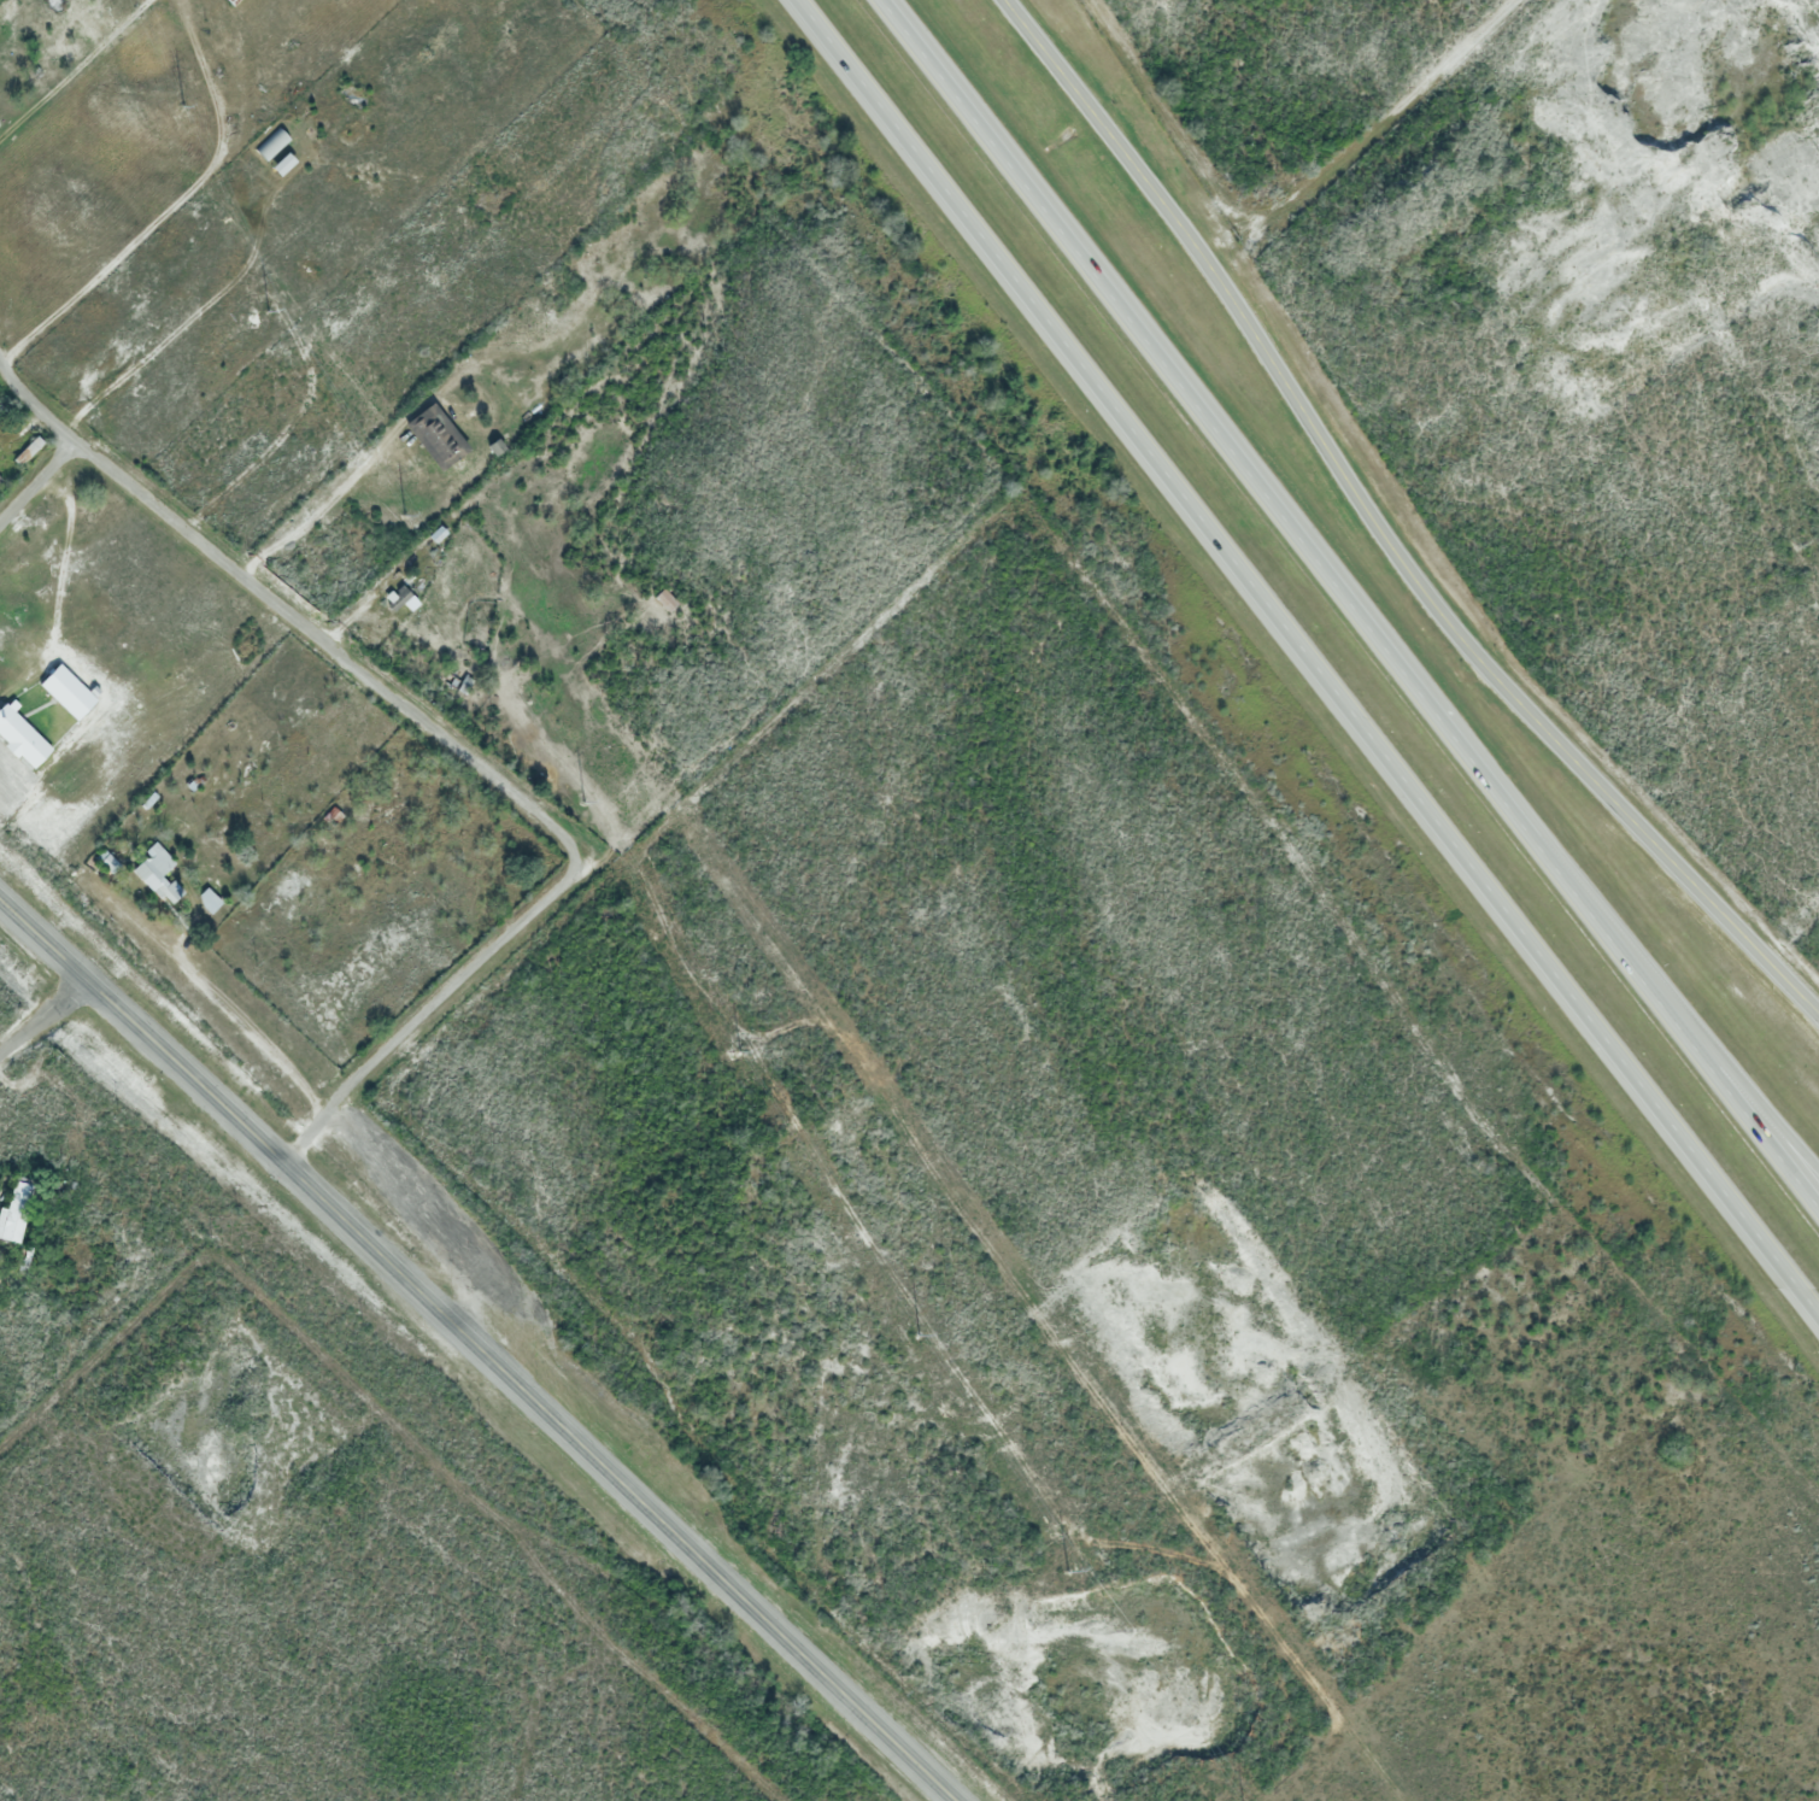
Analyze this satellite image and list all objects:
building: (233, 1)
building: (212, 46)
road: (72, 69)
power tower: (182, 110)
building: (274, 146)
building: (282, 166)
road: (172, 203)
power tower: (270, 310)
road: (34, 403)
building: (435, 436)
building: (495, 446)
building: (28, 451)
building: (0, 480)
power tower: (403, 515)
building: (436, 533)
road: (1380, 533)
building: (400, 598)
building: (668, 600)
road: (1352, 602)
building: (101, 616)
road: (1312, 658)
building: (66, 691)
building: (22, 738)
road: (454, 747)
building: (149, 799)
power tower: (583, 804)
building: (333, 815)
building: (380, 825)
building: (159, 875)
building: (207, 898)
road: (43, 1015)
road: (1709, 1044)
power tower: (739, 1052)
building: (16, 1213)
power tower: (916, 1333)
road: (480, 1347)
power tower: (1069, 1577)

